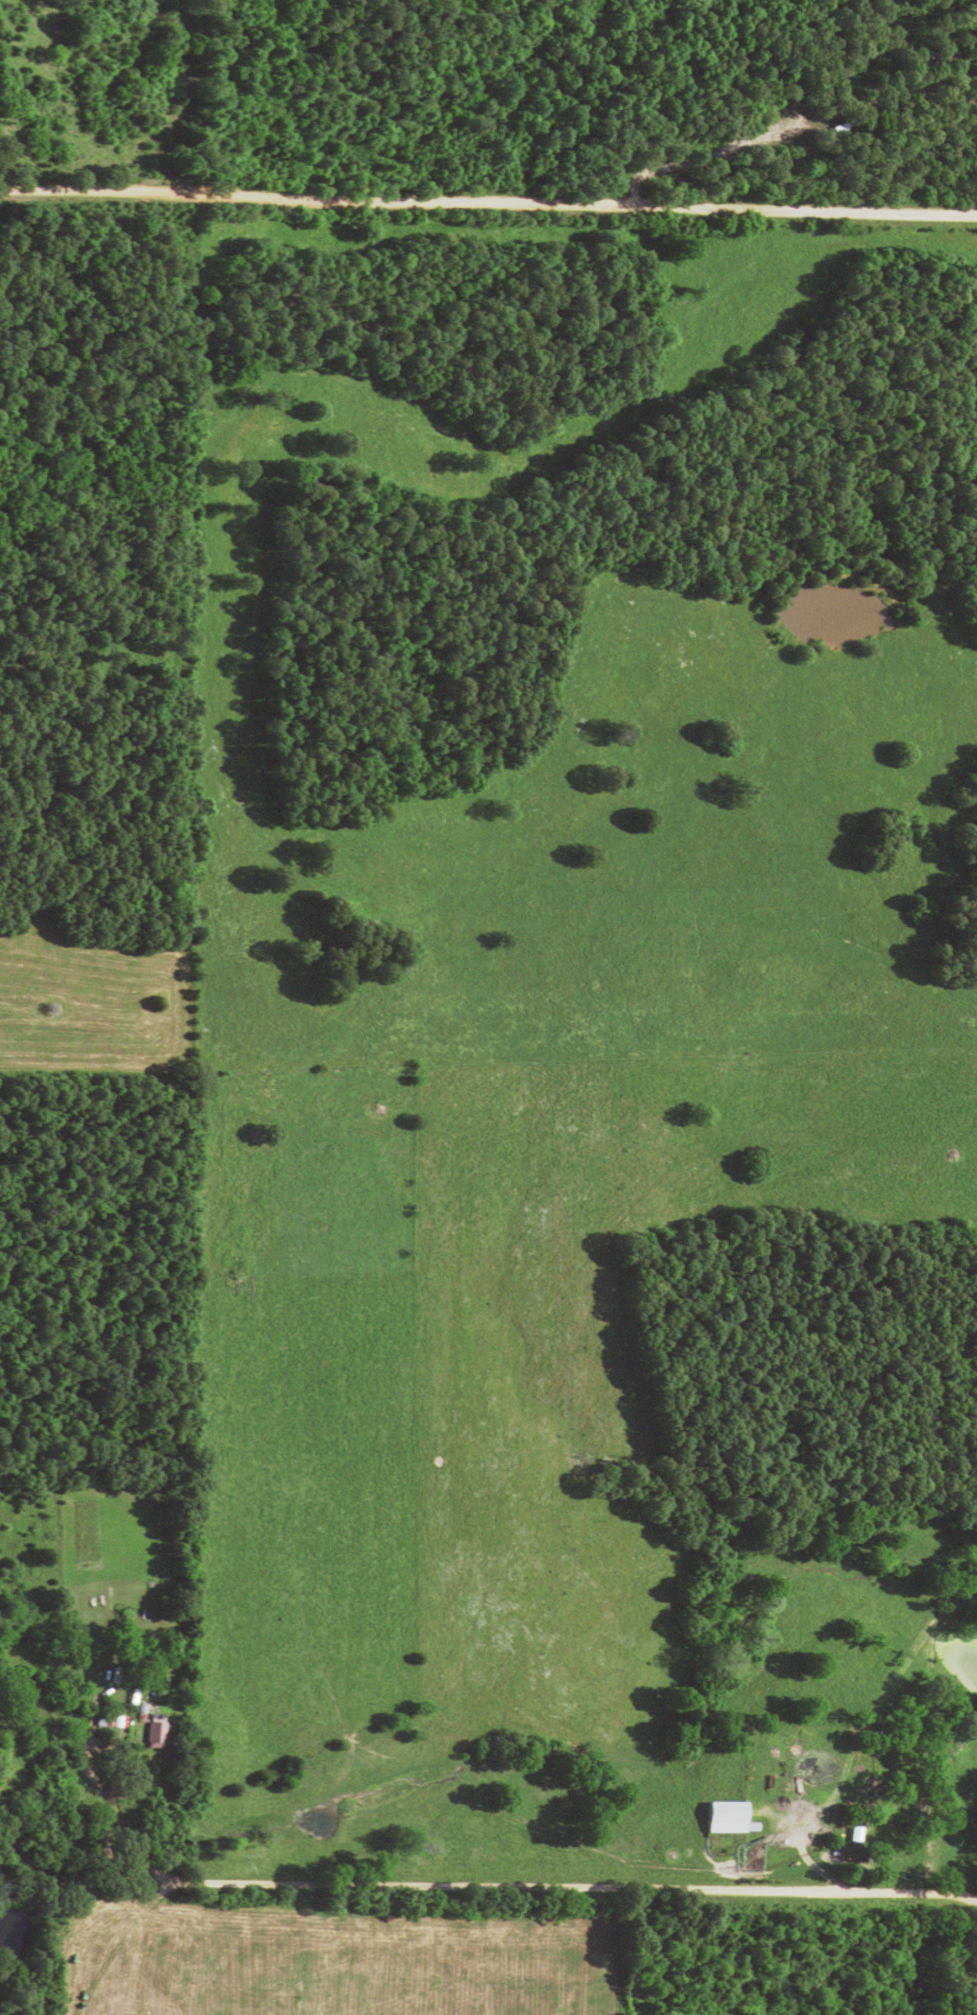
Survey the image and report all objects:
road: (488, 201)
building: (160, 1740)
building: (726, 1822)
road: (576, 1887)

